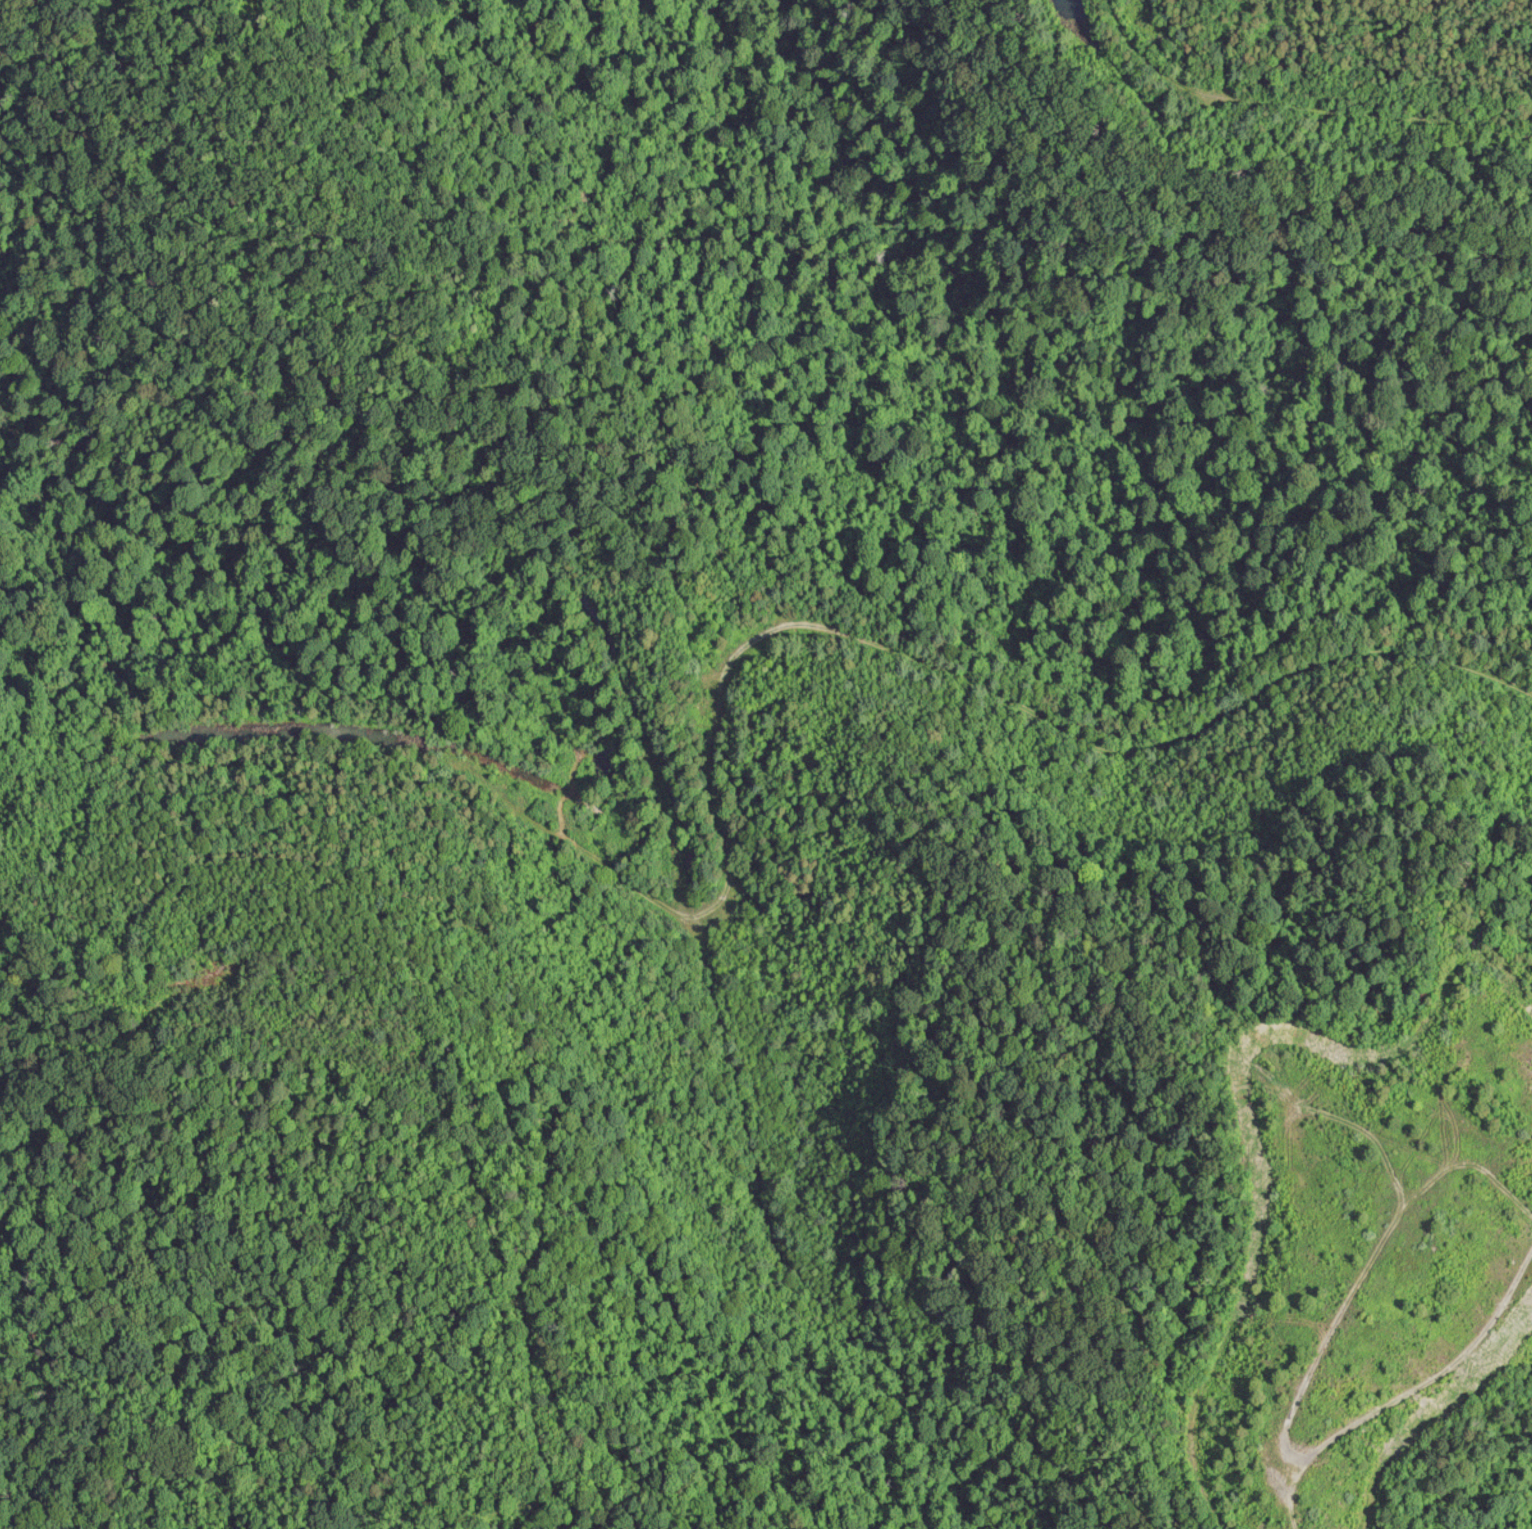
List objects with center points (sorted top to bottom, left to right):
road: (1298, 98)

